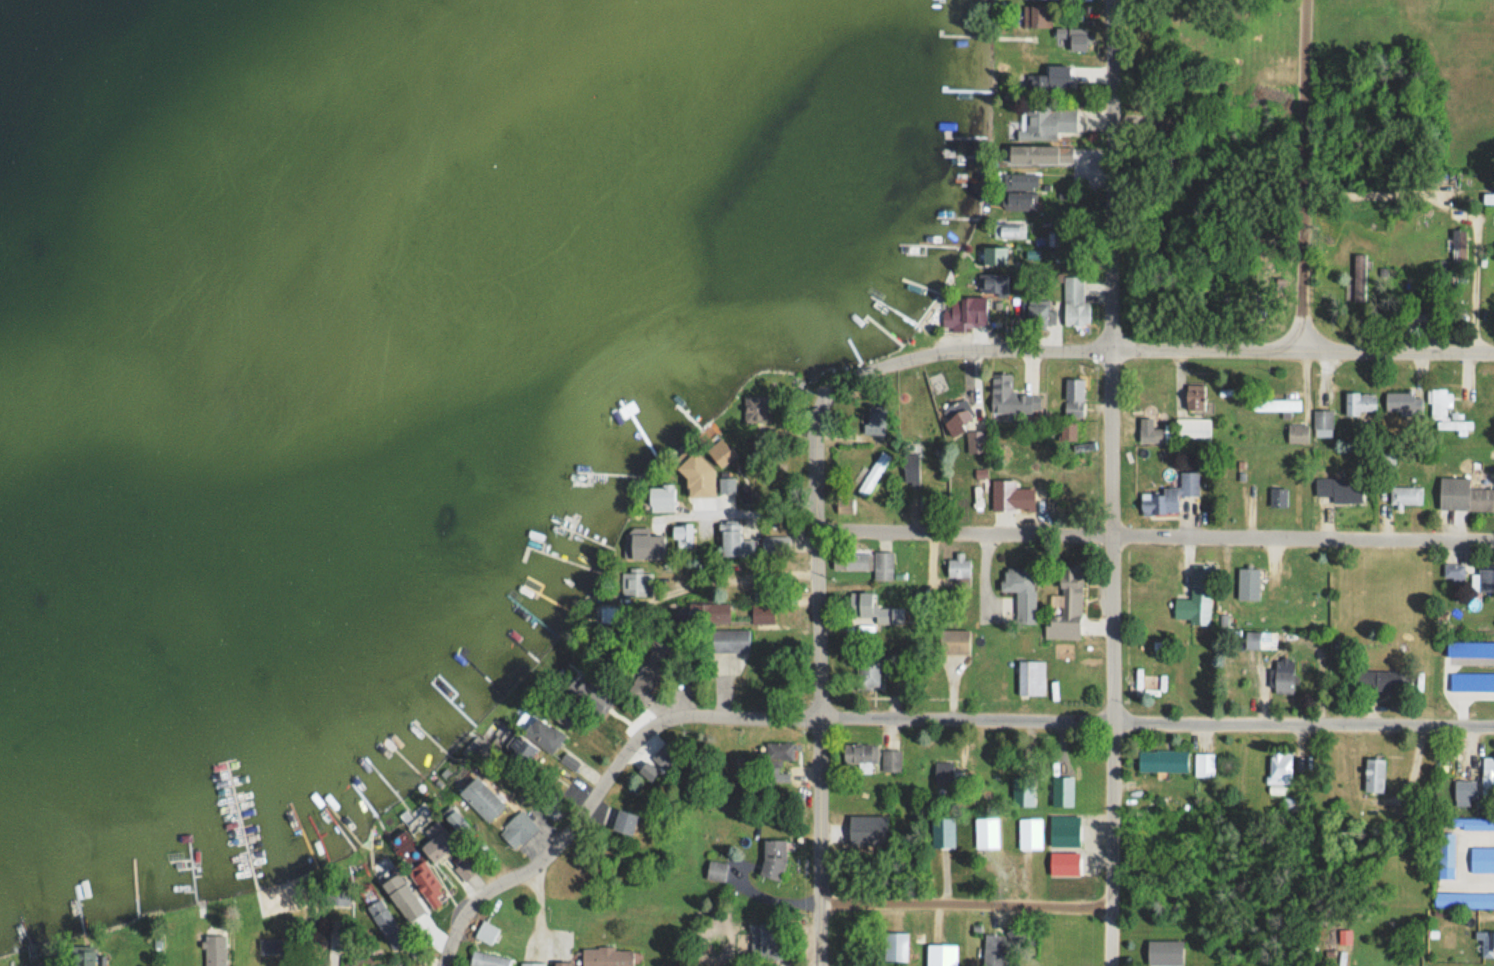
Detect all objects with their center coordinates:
building: (1052, 0)
building: (1037, 17)
building: (1074, 38)
building: (1034, 62)
building: (1040, 83)
building: (1053, 122)
building: (1054, 159)
road: (1300, 172)
building: (1020, 181)
building: (1019, 200)
building: (1011, 228)
building: (1456, 240)
building: (997, 255)
road: (1476, 278)
building: (1075, 301)
building: (1040, 312)
building: (964, 313)
building: (1454, 314)
building: (1418, 317)
road: (1152, 346)
building: (1012, 397)
building: (1074, 397)
building: (1196, 397)
building: (1403, 401)
building: (1362, 403)
building: (1277, 405)
building: (1444, 411)
building: (1323, 419)
building: (956, 425)
building: (1068, 430)
building: (1193, 430)
building: (1298, 434)
building: (977, 443)
building: (722, 453)
building: (1389, 458)
building: (912, 468)
building: (873, 474)
building: (696, 478)
road: (1113, 482)
building: (727, 485)
building: (1340, 490)
building: (1170, 495)
building: (1406, 495)
building: (1464, 495)
building: (1011, 496)
building: (662, 497)
building: (1278, 497)
building: (845, 505)
road: (1099, 535)
building: (733, 538)
building: (684, 539)
building: (648, 543)
building: (772, 543)
building: (871, 562)
building: (959, 567)
building: (1453, 572)
road: (738, 577)
building: (1485, 579)
building: (634, 581)
building: (1249, 582)
building: (1021, 590)
building: (861, 603)
building: (1067, 606)
building: (1194, 608)
building: (709, 611)
building: (762, 613)
building: (1261, 639)
building: (730, 640)
building: (869, 671)
road: (819, 672)
building: (1031, 676)
building: (1284, 676)
building: (1381, 682)
building: (528, 719)
road: (907, 719)
building: (511, 742)
building: (477, 748)
building: (665, 755)
building: (861, 757)
building: (891, 759)
building: (777, 760)
building: (1163, 760)
building: (1204, 763)
building: (1280, 767)
building: (650, 771)
building: (1374, 774)
building: (1488, 777)
building: (1465, 790)
building: (551, 805)
building: (626, 821)
building: (1469, 823)
building: (523, 828)
building: (868, 828)
building: (439, 843)
building: (1446, 855)
building: (773, 858)
building: (1070, 858)
building: (1482, 859)
building: (432, 893)
building: (405, 896)
building: (1464, 900)
road: (965, 905)
building: (486, 932)
building: (768, 940)
building: (1486, 942)
building: (896, 945)
building: (215, 948)
building: (993, 949)
building: (1165, 952)
building: (610, 956)
building: (489, 959)
building: (532, 963)
building: (564, 963)

